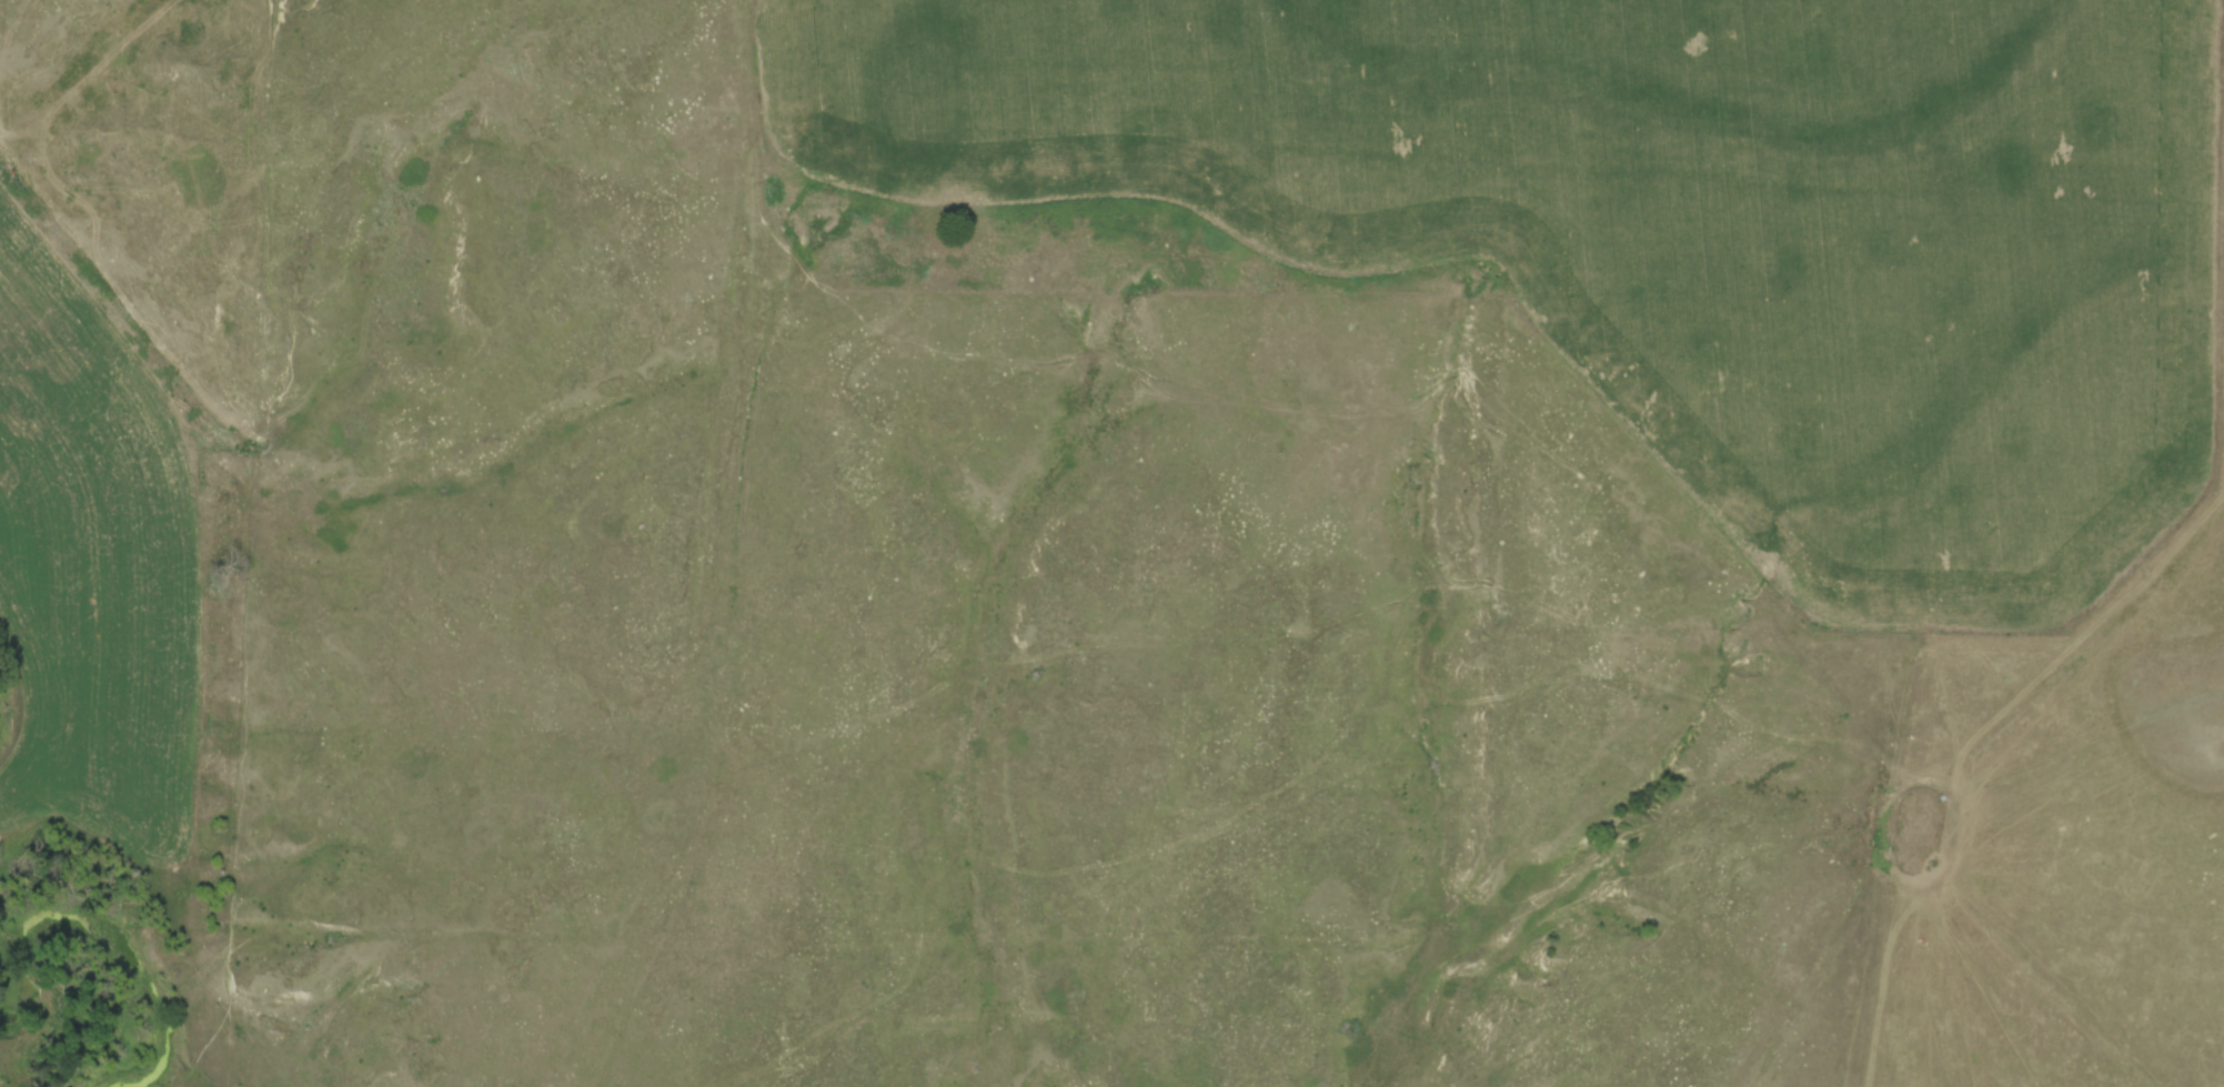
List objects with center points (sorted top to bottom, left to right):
crop: (1680, 230)

